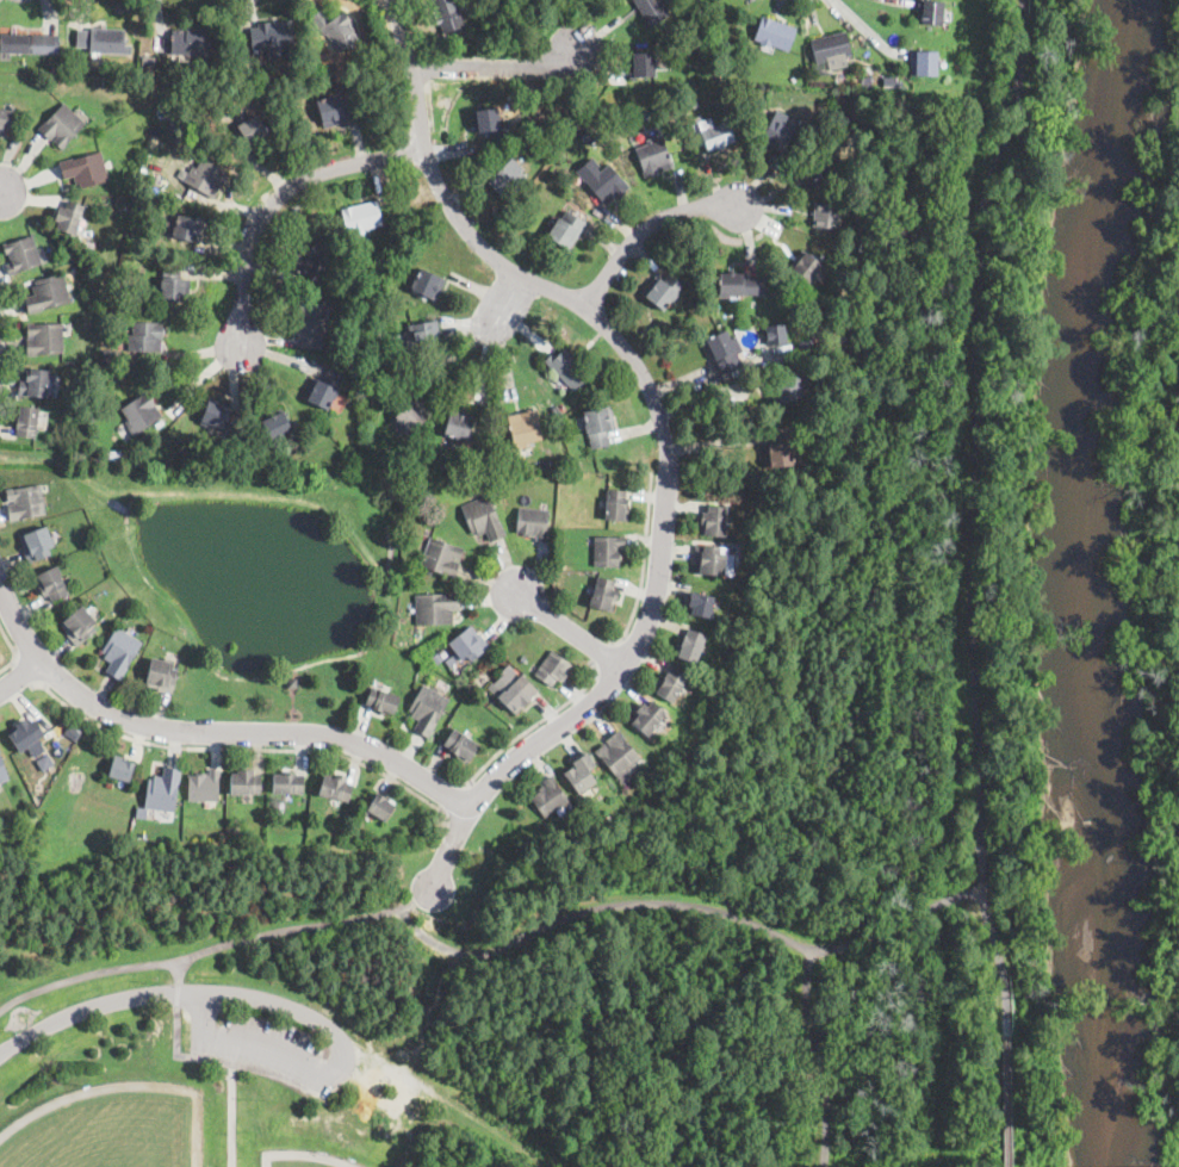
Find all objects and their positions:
building: (691, 10)
building: (652, 11)
building: (930, 12)
building: (449, 14)
road: (865, 27)
building: (335, 29)
building: (775, 35)
building: (272, 36)
building: (107, 42)
building: (190, 42)
building: (15, 44)
building: (831, 48)
building: (924, 63)
building: (641, 66)
road: (496, 67)
building: (376, 68)
building: (871, 72)
building: (149, 73)
building: (881, 80)
building: (106, 81)
building: (685, 106)
building: (330, 111)
building: (166, 112)
building: (7, 119)
building: (488, 122)
building: (62, 125)
building: (614, 128)
building: (250, 130)
building: (811, 132)
building: (607, 134)
building: (589, 135)
building: (778, 135)
building: (716, 136)
building: (528, 139)
building: (652, 157)
building: (85, 169)
building: (815, 170)
building: (205, 178)
building: (508, 180)
building: (606, 184)
road: (280, 195)
road: (2, 198)
building: (826, 215)
building: (69, 217)
building: (361, 218)
road: (644, 228)
park: (982, 228)
building: (187, 229)
building: (564, 231)
building: (352, 243)
building: (310, 253)
building: (21, 255)
building: (808, 269)
building: (428, 285)
building: (739, 285)
building: (174, 286)
building: (662, 291)
building: (392, 293)
building: (48, 294)
road: (507, 297)
building: (119, 304)
building: (310, 325)
building: (815, 328)
building: (775, 333)
building: (426, 334)
building: (144, 337)
building: (44, 339)
road: (452, 353)
building: (721, 353)
building: (110, 359)
building: (567, 370)
building: (35, 383)
building: (323, 390)
building: (784, 391)
building: (409, 411)
building: (139, 412)
building: (556, 412)
building: (92, 416)
building: (215, 416)
building: (27, 422)
building: (275, 423)
building: (458, 424)
building: (598, 427)
building: (525, 429)
road: (664, 433)
building: (778, 448)
building: (482, 455)
building: (113, 457)
building: (242, 458)
building: (259, 464)
building: (577, 465)
building: (545, 466)
building: (25, 502)
building: (616, 505)
building: (483, 519)
building: (713, 522)
building: (533, 523)
building: (37, 544)
building: (608, 551)
building: (441, 558)
building: (709, 560)
park: (1159, 560)
road: (645, 564)
road: (967, 582)
river: (1097, 582)
building: (52, 584)
building: (603, 595)
building: (701, 604)
building: (436, 608)
building: (80, 625)
road: (571, 631)
building: (467, 645)
building: (690, 646)
road: (14, 651)
building: (120, 652)
road: (604, 654)
building: (525, 657)
building: (553, 669)
road: (20, 675)
road: (25, 675)
building: (161, 676)
building: (292, 683)
building: (671, 684)
building: (514, 697)
building: (381, 701)
building: (428, 709)
building: (647, 718)
road: (535, 726)
road: (215, 732)
building: (70, 733)
building: (25, 734)
building: (461, 745)
road: (240, 750)
building: (18, 755)
building: (619, 755)
building: (45, 761)
building: (4, 771)
building: (122, 771)
building: (582, 774)
building: (246, 783)
building: (287, 784)
building: (205, 787)
building: (336, 788)
building: (163, 792)
building: (682, 792)
building: (550, 797)
building: (254, 799)
road: (451, 800)
building: (379, 808)
building: (578, 832)
parking lot: (454, 883)
road: (949, 898)
road: (612, 905)
road: (879, 930)
road: (216, 946)
road: (179, 972)
road: (176, 994)
road: (98, 1006)
park: (525, 1008)
building: (161, 1044)
road: (817, 1056)
road: (336, 1070)
park: (107, 1128)
park: (299, 1161)

